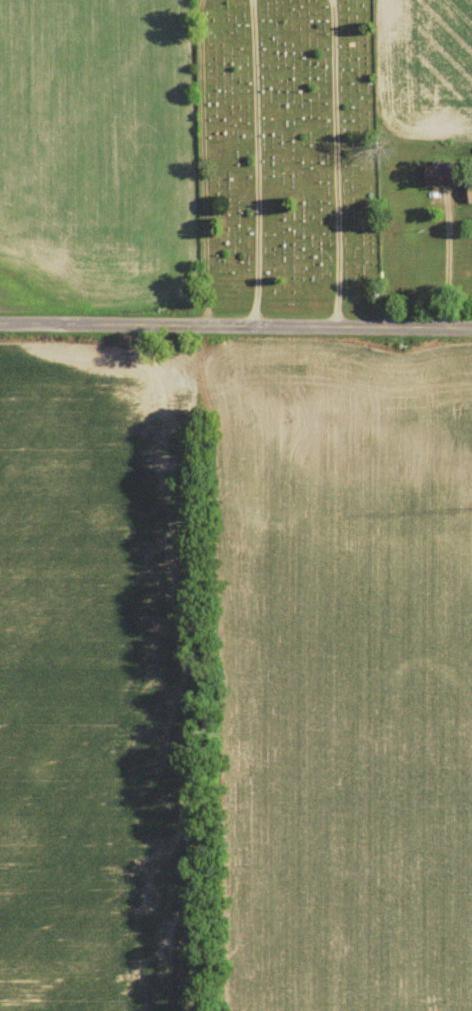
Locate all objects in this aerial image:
park: (285, 150)
building: (437, 180)
building: (468, 196)
road: (236, 326)

